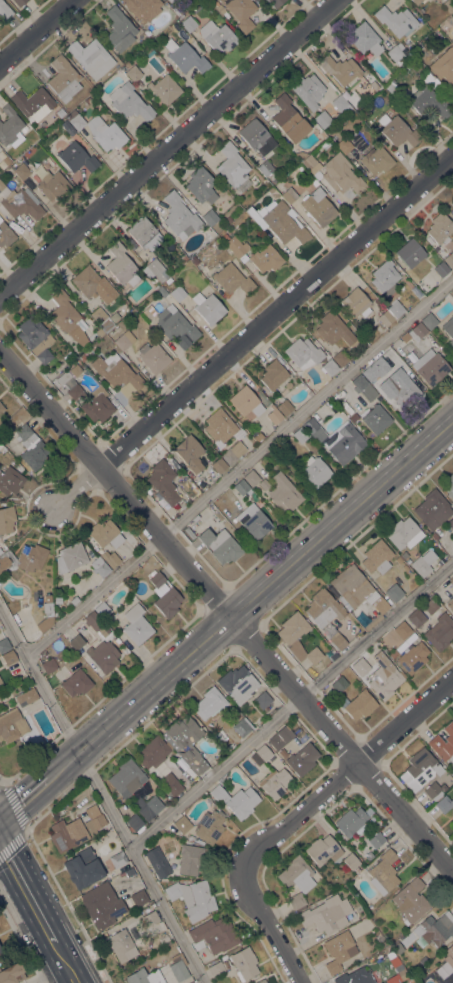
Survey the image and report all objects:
building: (169, 0)
building: (19, 2)
building: (275, 2)
building: (417, 3)
building: (448, 5)
building: (143, 9)
building: (5, 10)
building: (241, 12)
building: (396, 20)
building: (189, 23)
building: (119, 29)
road: (36, 31)
building: (218, 36)
building: (364, 39)
building: (395, 54)
building: (91, 57)
building: (185, 57)
building: (444, 65)
building: (340, 69)
building: (133, 73)
building: (63, 78)
building: (391, 86)
building: (164, 89)
building: (308, 90)
building: (452, 93)
building: (88, 100)
building: (129, 102)
building: (429, 102)
building: (33, 103)
building: (340, 104)
building: (60, 112)
building: (322, 118)
building: (289, 119)
building: (11, 127)
building: (68, 127)
building: (98, 130)
building: (397, 130)
building: (256, 137)
building: (344, 145)
road: (168, 150)
building: (77, 158)
building: (376, 160)
building: (232, 165)
building: (300, 166)
building: (265, 167)
building: (9, 171)
building: (22, 171)
building: (336, 173)
building: (314, 183)
building: (1, 185)
building: (53, 185)
building: (201, 185)
building: (271, 190)
building: (289, 195)
building: (21, 203)
building: (452, 203)
building: (318, 207)
building: (180, 216)
building: (210, 216)
building: (229, 219)
building: (279, 221)
building: (440, 227)
building: (209, 230)
building: (5, 234)
building: (144, 234)
building: (225, 237)
building: (237, 248)
building: (410, 253)
building: (183, 259)
building: (265, 259)
building: (449, 259)
building: (195, 260)
building: (121, 265)
building: (441, 269)
building: (156, 270)
building: (383, 276)
building: (231, 278)
building: (168, 280)
building: (93, 284)
building: (161, 291)
building: (178, 293)
building: (356, 303)
building: (208, 307)
building: (395, 309)
building: (114, 316)
building: (68, 317)
building: (386, 318)
building: (102, 319)
building: (429, 321)
building: (176, 327)
building: (449, 329)
building: (334, 330)
building: (100, 331)
building: (417, 331)
road: (252, 332)
building: (404, 336)
building: (35, 338)
building: (124, 340)
building: (303, 353)
building: (152, 357)
building: (83, 358)
building: (341, 358)
building: (330, 367)
building: (430, 367)
building: (117, 373)
building: (273, 374)
building: (371, 374)
building: (70, 386)
building: (363, 388)
building: (403, 390)
building: (246, 401)
building: (97, 405)
building: (284, 407)
building: (1, 408)
building: (274, 416)
building: (354, 417)
building: (376, 419)
building: (310, 425)
building: (219, 426)
building: (300, 434)
building: (259, 436)
building: (343, 442)
building: (31, 447)
building: (189, 453)
building: (233, 453)
building: (219, 465)
road: (238, 466)
building: (315, 471)
building: (251, 478)
building: (10, 481)
building: (163, 481)
building: (263, 483)
building: (449, 485)
building: (241, 487)
building: (284, 493)
building: (433, 509)
building: (195, 518)
building: (7, 520)
building: (254, 521)
building: (450, 522)
building: (189, 532)
building: (403, 533)
building: (105, 534)
building: (434, 535)
building: (220, 545)
building: (0, 550)
building: (404, 555)
building: (31, 557)
building: (377, 557)
building: (70, 558)
building: (110, 558)
building: (423, 562)
building: (2, 565)
building: (99, 567)
building: (451, 580)
building: (357, 592)
building: (394, 592)
building: (164, 595)
building: (131, 598)
road: (250, 599)
building: (74, 600)
building: (450, 603)
building: (430, 606)
building: (47, 607)
building: (324, 608)
building: (102, 610)
road: (226, 613)
building: (416, 617)
building: (93, 621)
building: (136, 624)
building: (402, 629)
building: (440, 632)
building: (111, 634)
building: (288, 636)
building: (337, 641)
building: (76, 642)
building: (4, 645)
building: (392, 653)
building: (103, 655)
building: (413, 657)
building: (9, 658)
building: (49, 665)
building: (361, 667)
building: (384, 677)
building: (1, 682)
building: (76, 683)
building: (237, 684)
building: (338, 684)
building: (1, 688)
building: (26, 697)
building: (262, 700)
building: (209, 703)
road: (290, 703)
building: (359, 705)
road: (405, 721)
building: (12, 725)
building: (242, 727)
building: (182, 733)
building: (218, 737)
building: (280, 737)
building: (443, 743)
building: (153, 752)
building: (263, 752)
building: (302, 759)
building: (198, 765)
building: (418, 769)
building: (126, 778)
building: (274, 783)
building: (171, 784)
building: (431, 789)
building: (218, 793)
road: (102, 796)
road: (23, 798)
building: (241, 802)
building: (444, 804)
building: (148, 807)
building: (452, 811)
building: (93, 820)
building: (353, 821)
building: (134, 822)
building: (182, 824)
building: (209, 826)
building: (67, 834)
building: (191, 837)
building: (376, 840)
building: (323, 850)
road: (250, 856)
building: (118, 859)
building: (190, 859)
building: (351, 862)
building: (158, 864)
building: (82, 868)
building: (384, 870)
building: (129, 872)
building: (296, 874)
road: (26, 892)
building: (139, 897)
building: (192, 899)
building: (410, 900)
building: (297, 901)
building: (102, 905)
building: (326, 914)
building: (150, 918)
building: (383, 925)
building: (432, 929)
building: (214, 935)
building: (120, 945)
building: (397, 947)
building: (338, 950)
building: (1, 953)
building: (449, 955)
road: (62, 963)
building: (244, 963)
building: (396, 964)
building: (216, 969)
building: (178, 970)
building: (12, 973)
road: (48, 974)
building: (402, 974)
building: (144, 976)
building: (354, 977)
building: (261, 981)
building: (410, 981)

